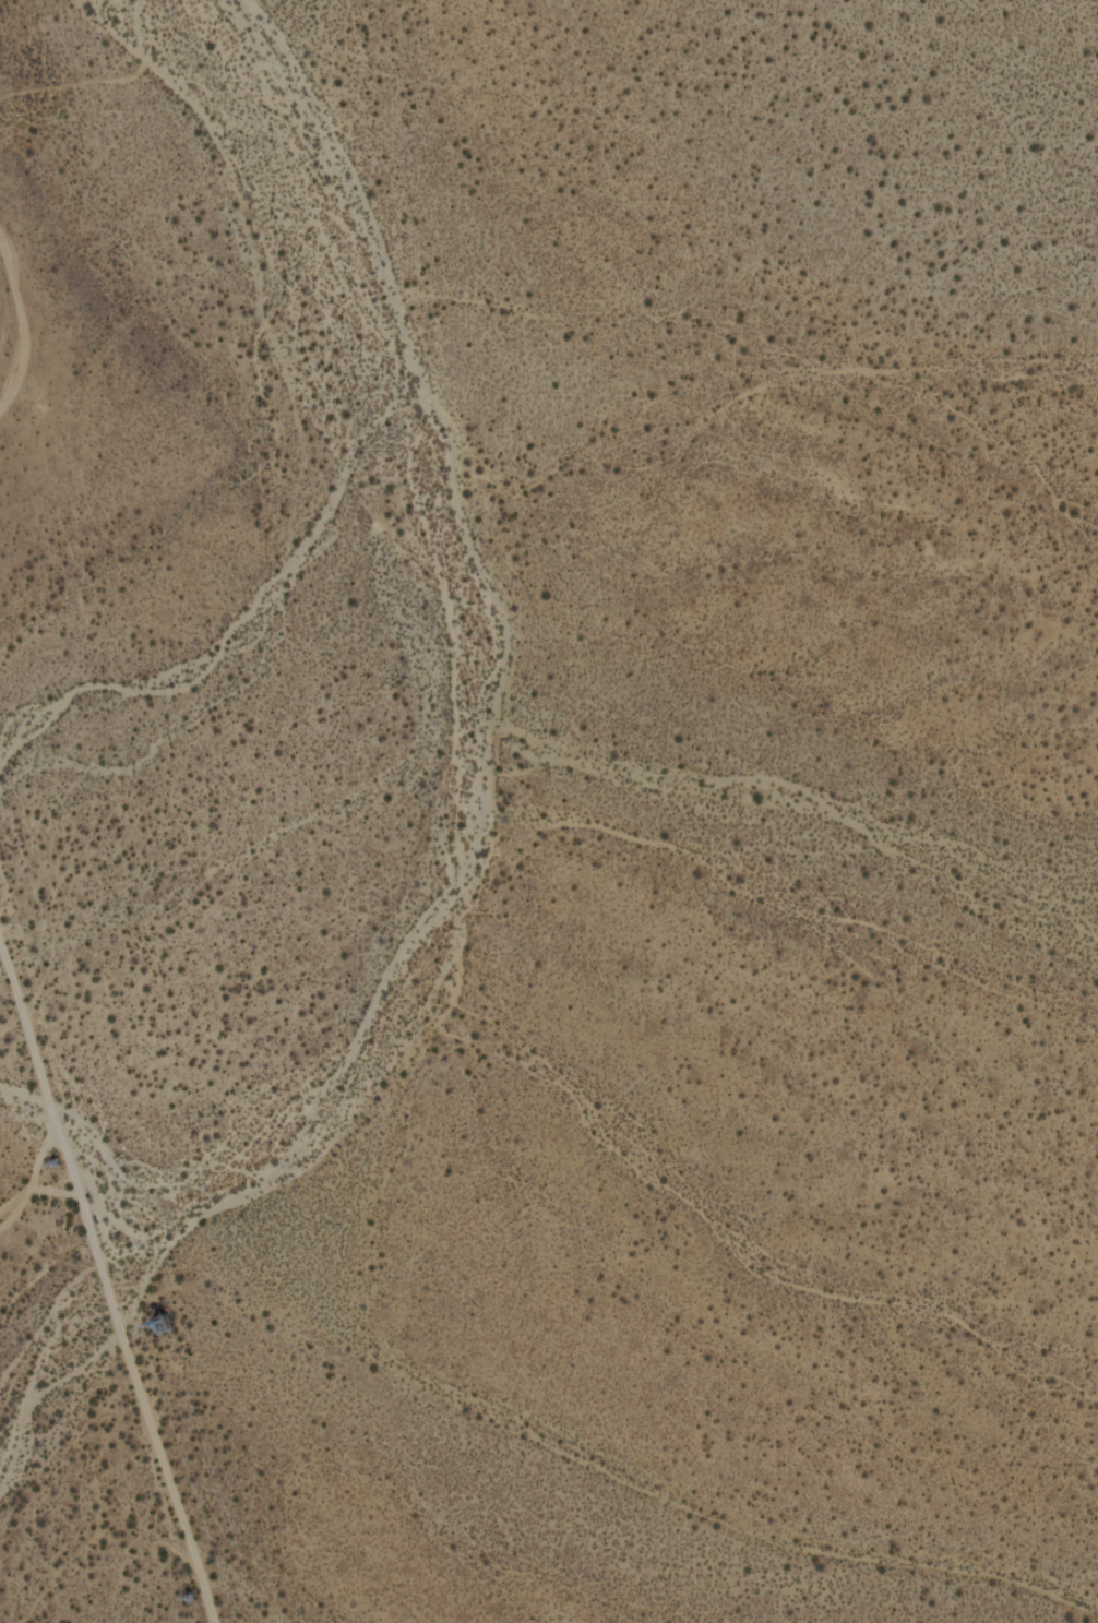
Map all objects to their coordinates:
power tower: (55, 1174)
power tower: (162, 1332)
power tower: (184, 1601)

